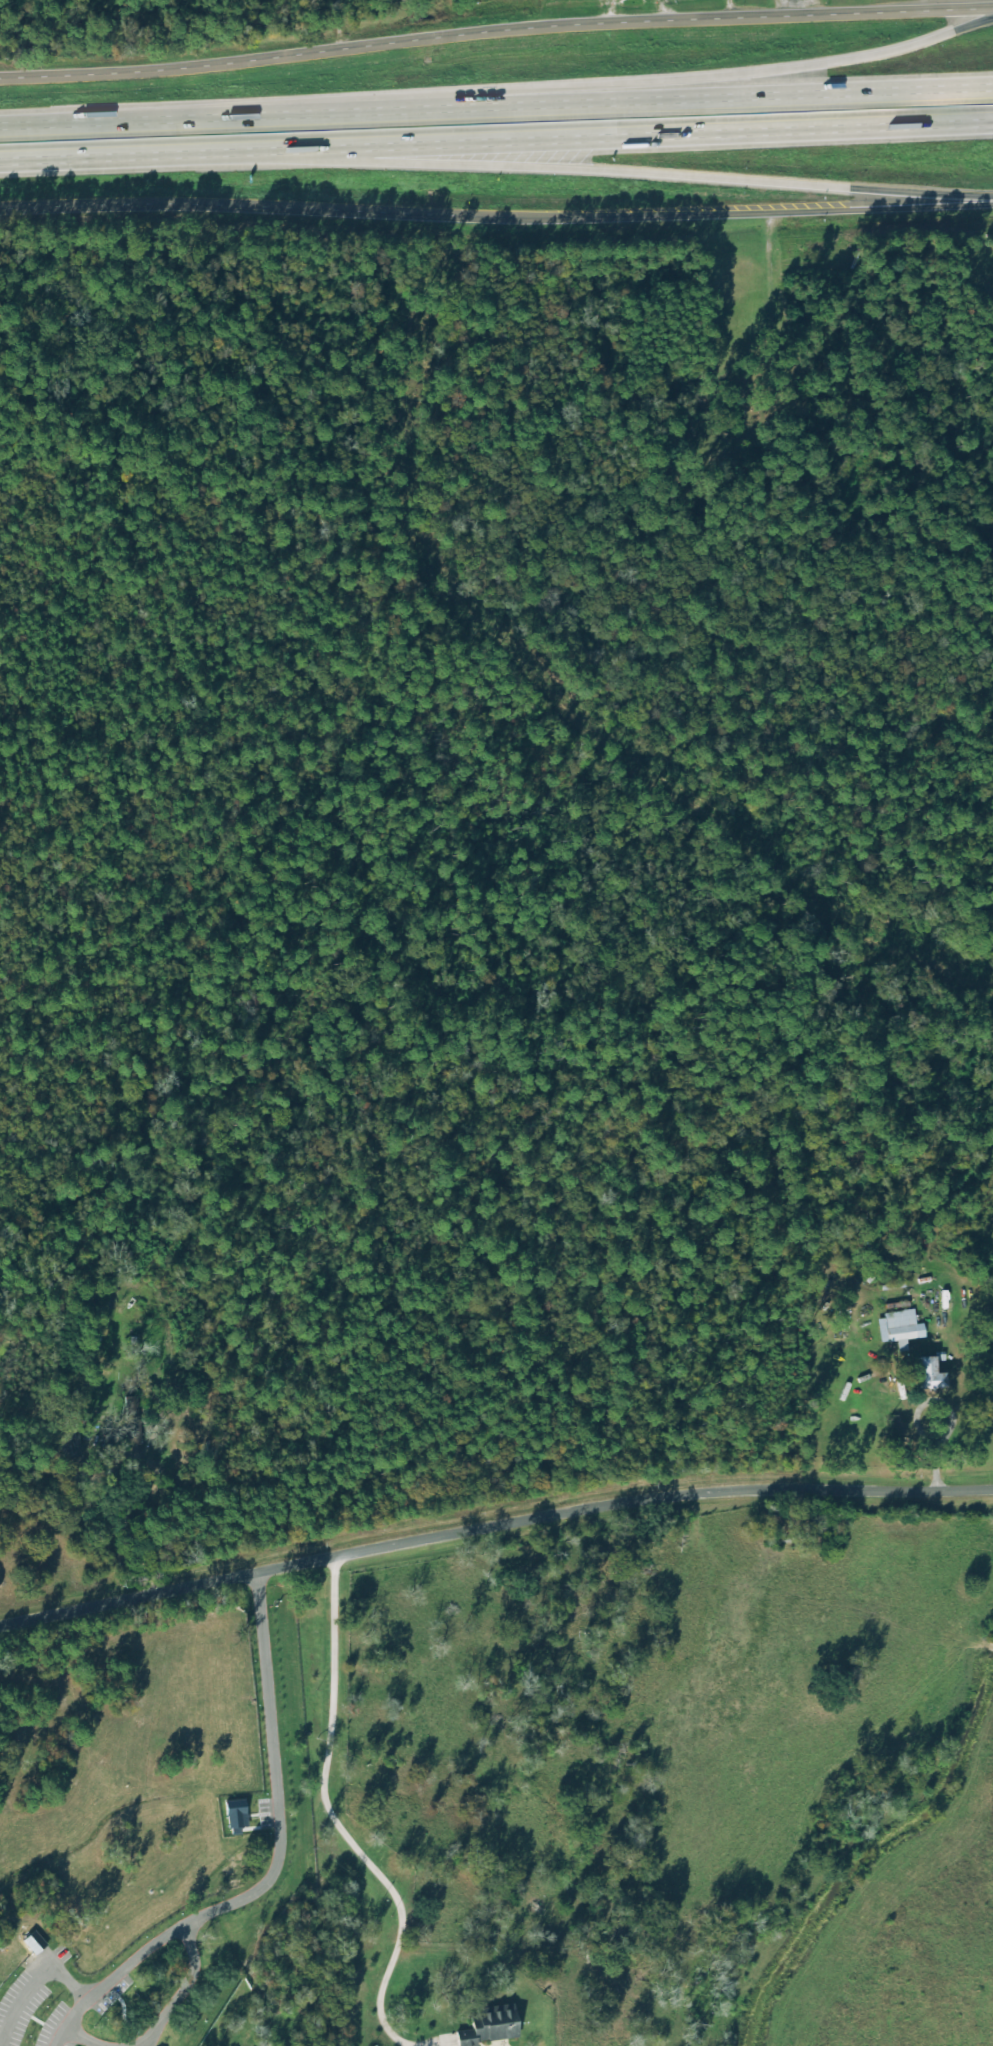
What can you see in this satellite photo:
road: (495, 30)
road: (663, 80)
road: (660, 99)
road: (164, 118)
road: (496, 138)
road: (622, 168)
road: (496, 214)
park: (740, 403)
building: (898, 1325)
building: (928, 1373)
road: (918, 1405)
road: (116, 1474)
road: (493, 1524)
park: (802, 1525)
road: (272, 1774)
building: (235, 1813)
road: (333, 1819)
building: (32, 1942)
road: (33, 1981)
road: (106, 1984)
road: (180, 1991)
building: (489, 2026)
road: (61, 2034)

